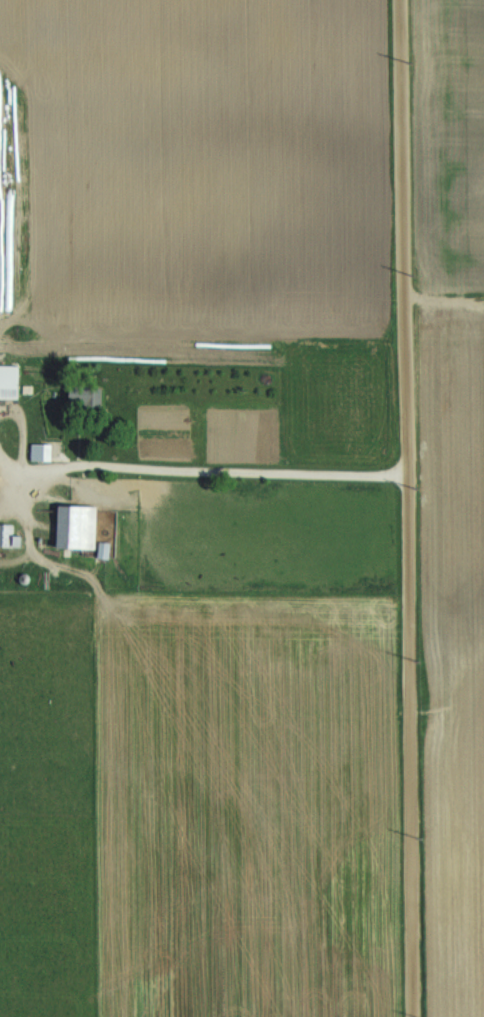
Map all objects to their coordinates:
building: (10, 382)
building: (88, 398)
building: (43, 452)
road: (234, 467)
road: (408, 508)
building: (81, 528)
building: (4, 532)

